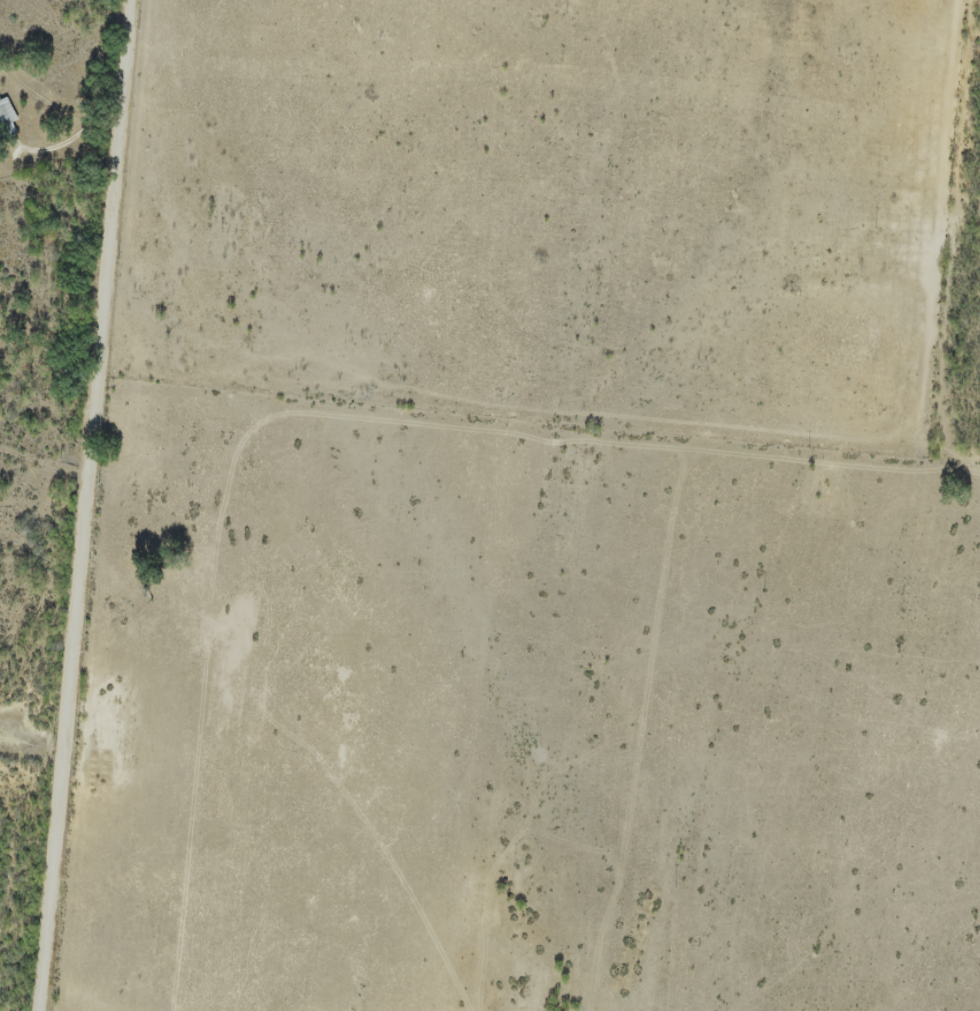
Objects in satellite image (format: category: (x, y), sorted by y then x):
building: (6, 113)
road: (70, 137)
road: (81, 505)

